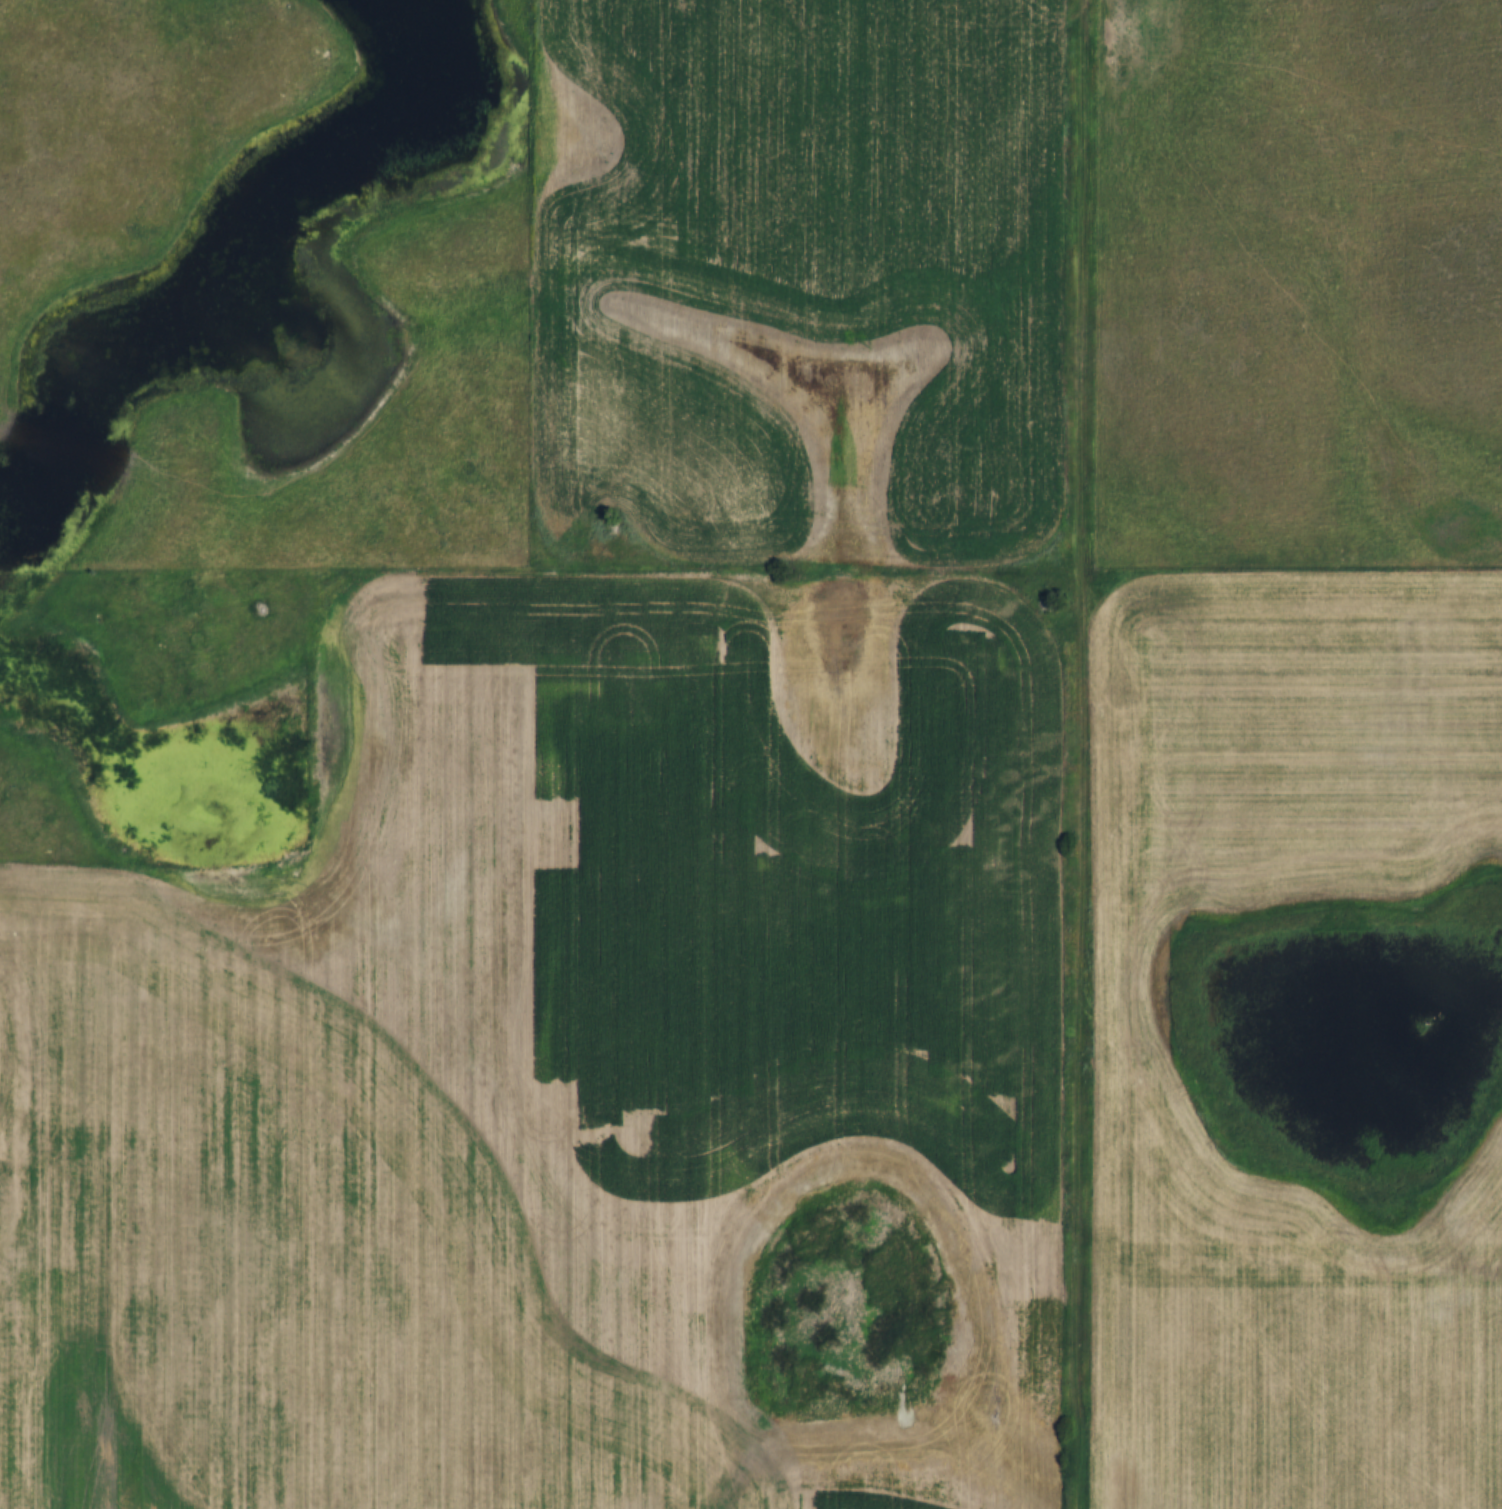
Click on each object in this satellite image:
road: (1084, 754)

